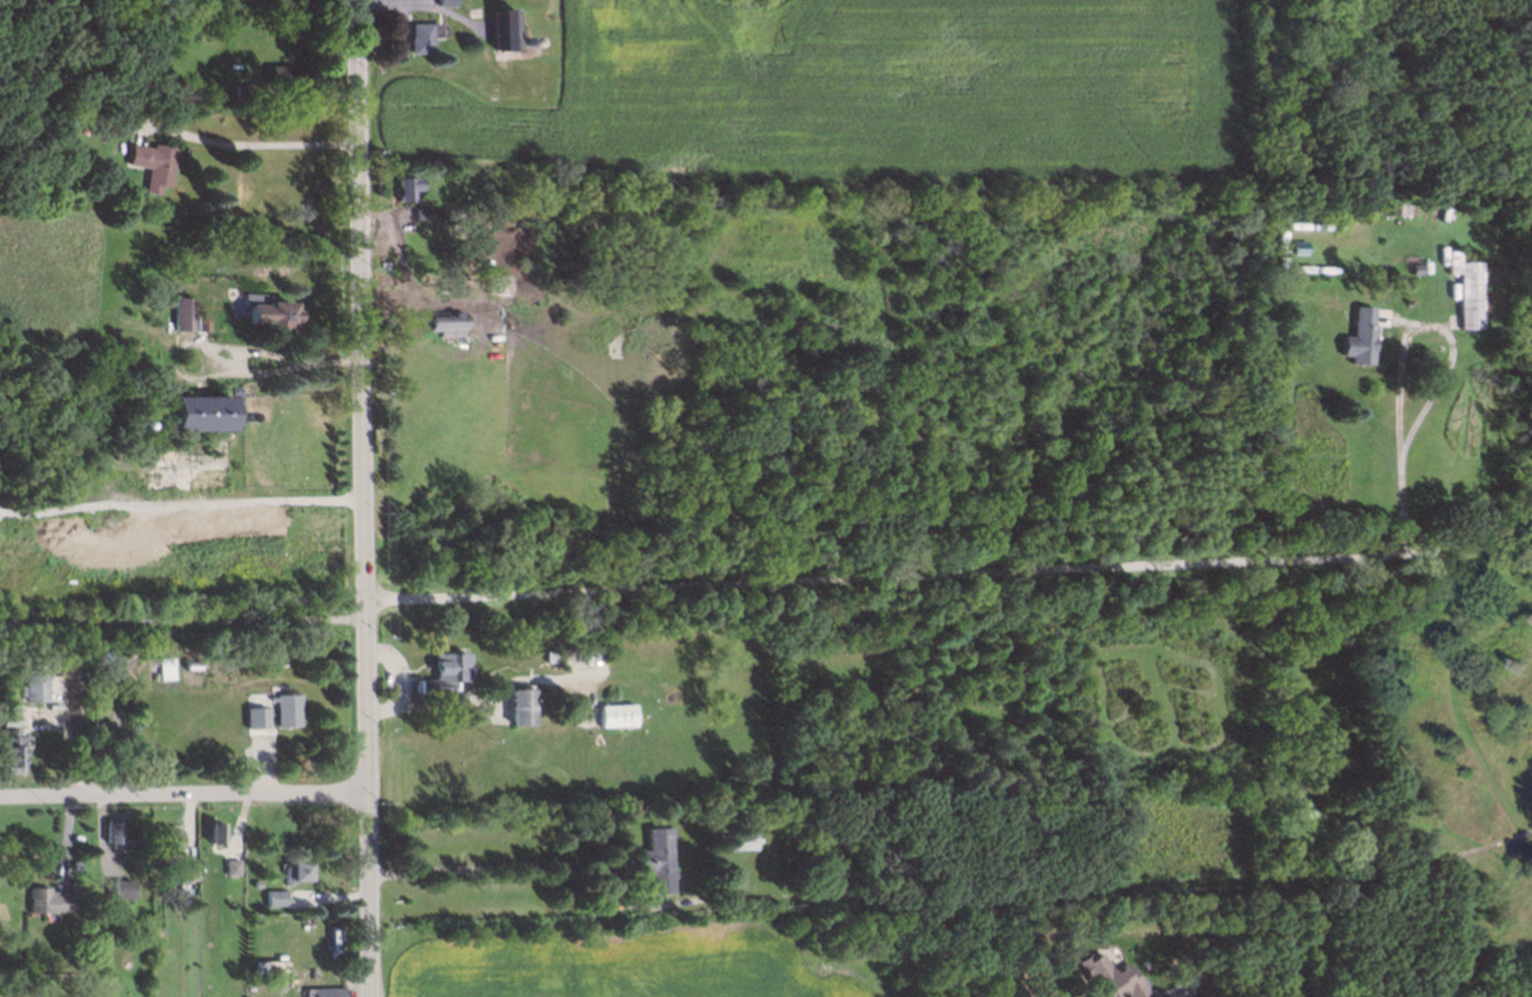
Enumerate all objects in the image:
building: (442, 2)
building: (500, 28)
building: (419, 35)
building: (278, 75)
building: (239, 92)
building: (10, 123)
road: (220, 142)
building: (149, 161)
building: (403, 186)
building: (573, 203)
building: (424, 213)
building: (1412, 269)
building: (1463, 288)
building: (266, 308)
building: (179, 315)
building: (199, 321)
building: (447, 325)
building: (1356, 337)
road: (1398, 358)
road: (260, 373)
building: (195, 412)
building: (136, 423)
road: (363, 498)
road: (181, 502)
building: (130, 544)
road: (1461, 554)
road: (878, 579)
road: (182, 620)
building: (545, 652)
building: (232, 654)
building: (162, 668)
building: (438, 674)
building: (113, 675)
building: (35, 689)
building: (514, 705)
building: (112, 707)
building: (282, 708)
building: (258, 712)
building: (7, 713)
building: (610, 714)
building: (96, 729)
building: (7, 750)
road: (183, 794)
building: (111, 833)
building: (211, 833)
building: (163, 839)
building: (732, 839)
building: (651, 858)
building: (227, 866)
building: (292, 870)
building: (181, 872)
building: (252, 881)
building: (117, 886)
building: (268, 899)
building: (41, 900)
road: (619, 906)
building: (1106, 975)
building: (317, 991)

